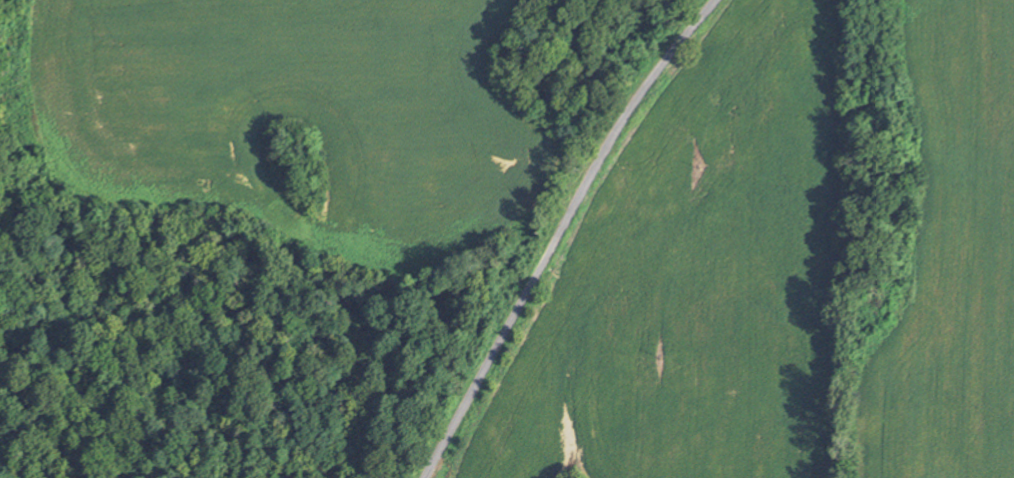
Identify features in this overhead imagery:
road: (564, 233)

